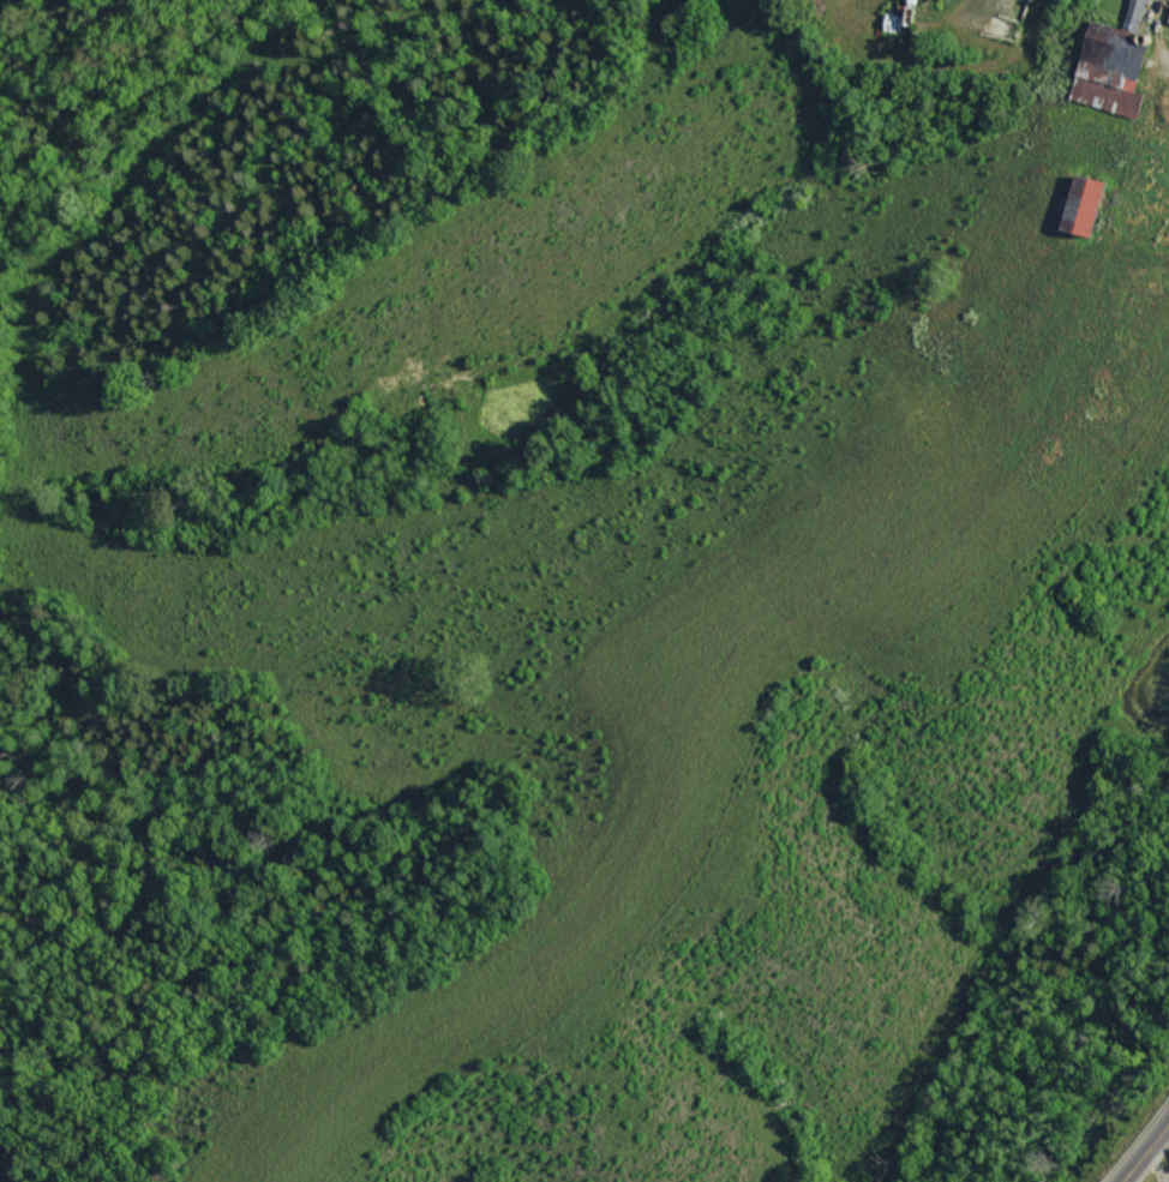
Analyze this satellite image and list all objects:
building: (1104, 70)
building: (1073, 204)
road: (1147, 1154)

